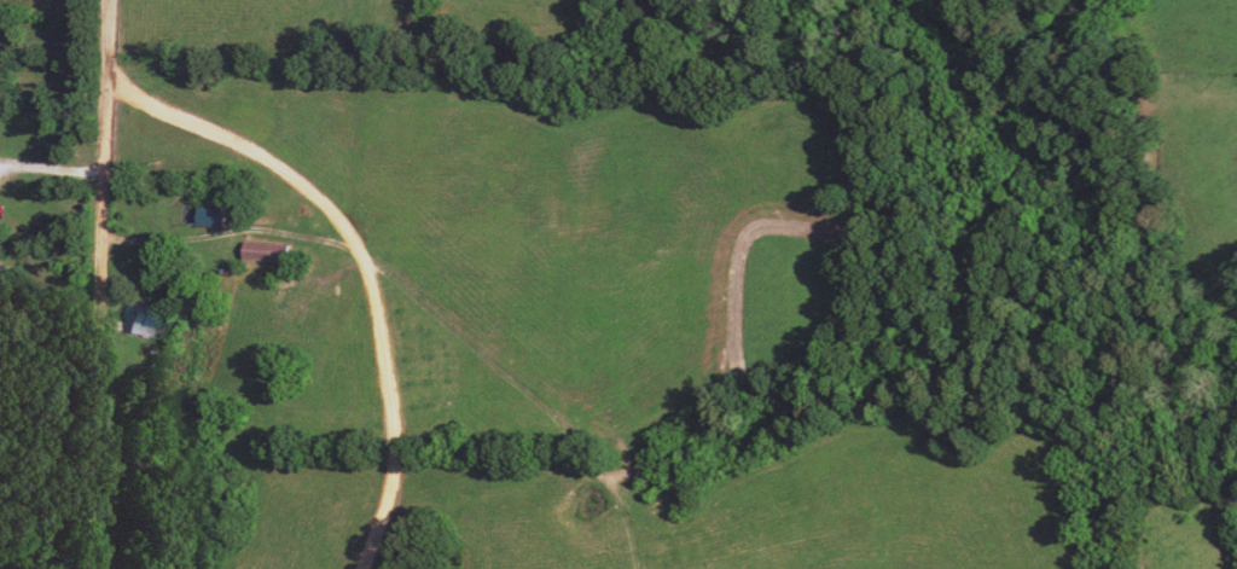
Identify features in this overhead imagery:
road: (57, 168)
building: (213, 221)
building: (266, 255)
road: (109, 284)
building: (149, 321)

